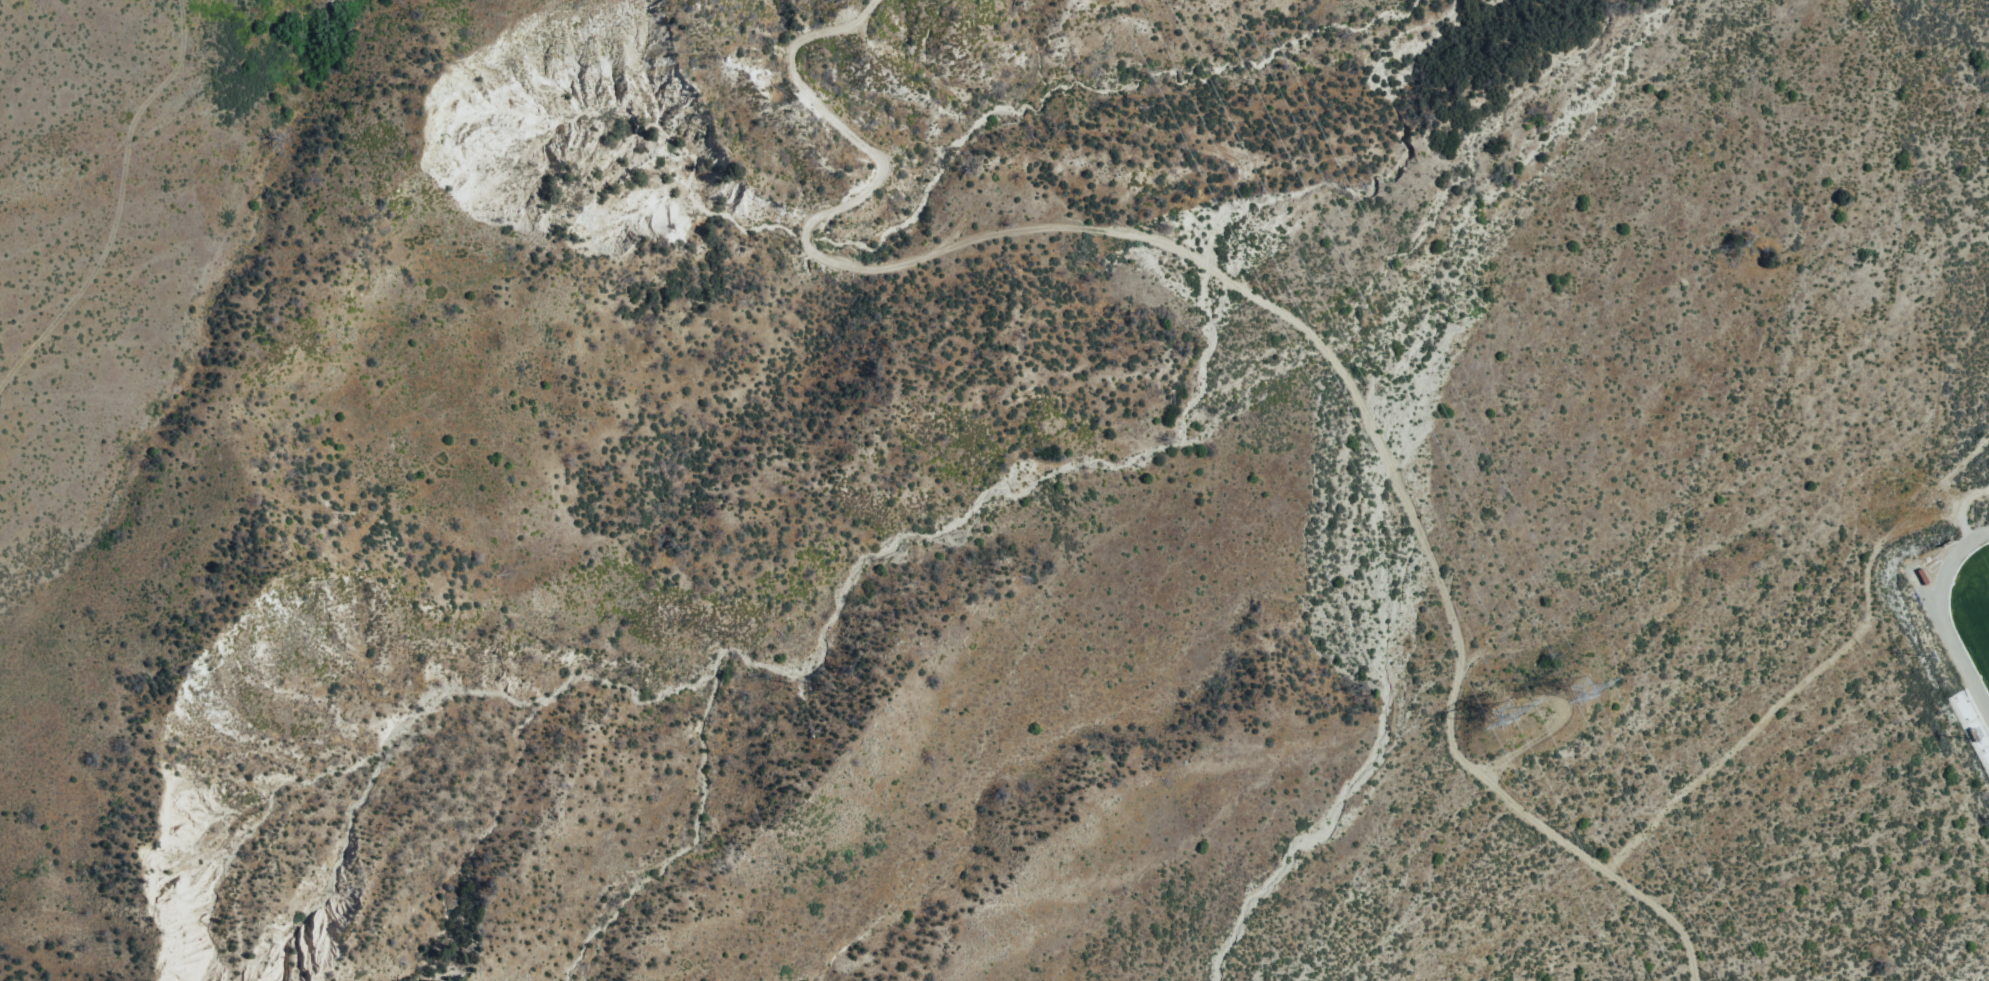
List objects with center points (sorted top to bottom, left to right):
road: (121, 207)
road: (1277, 299)
park: (1977, 634)
track: (1960, 661)
power tower: (1581, 690)
power tower: (1507, 713)
road: (1968, 739)

